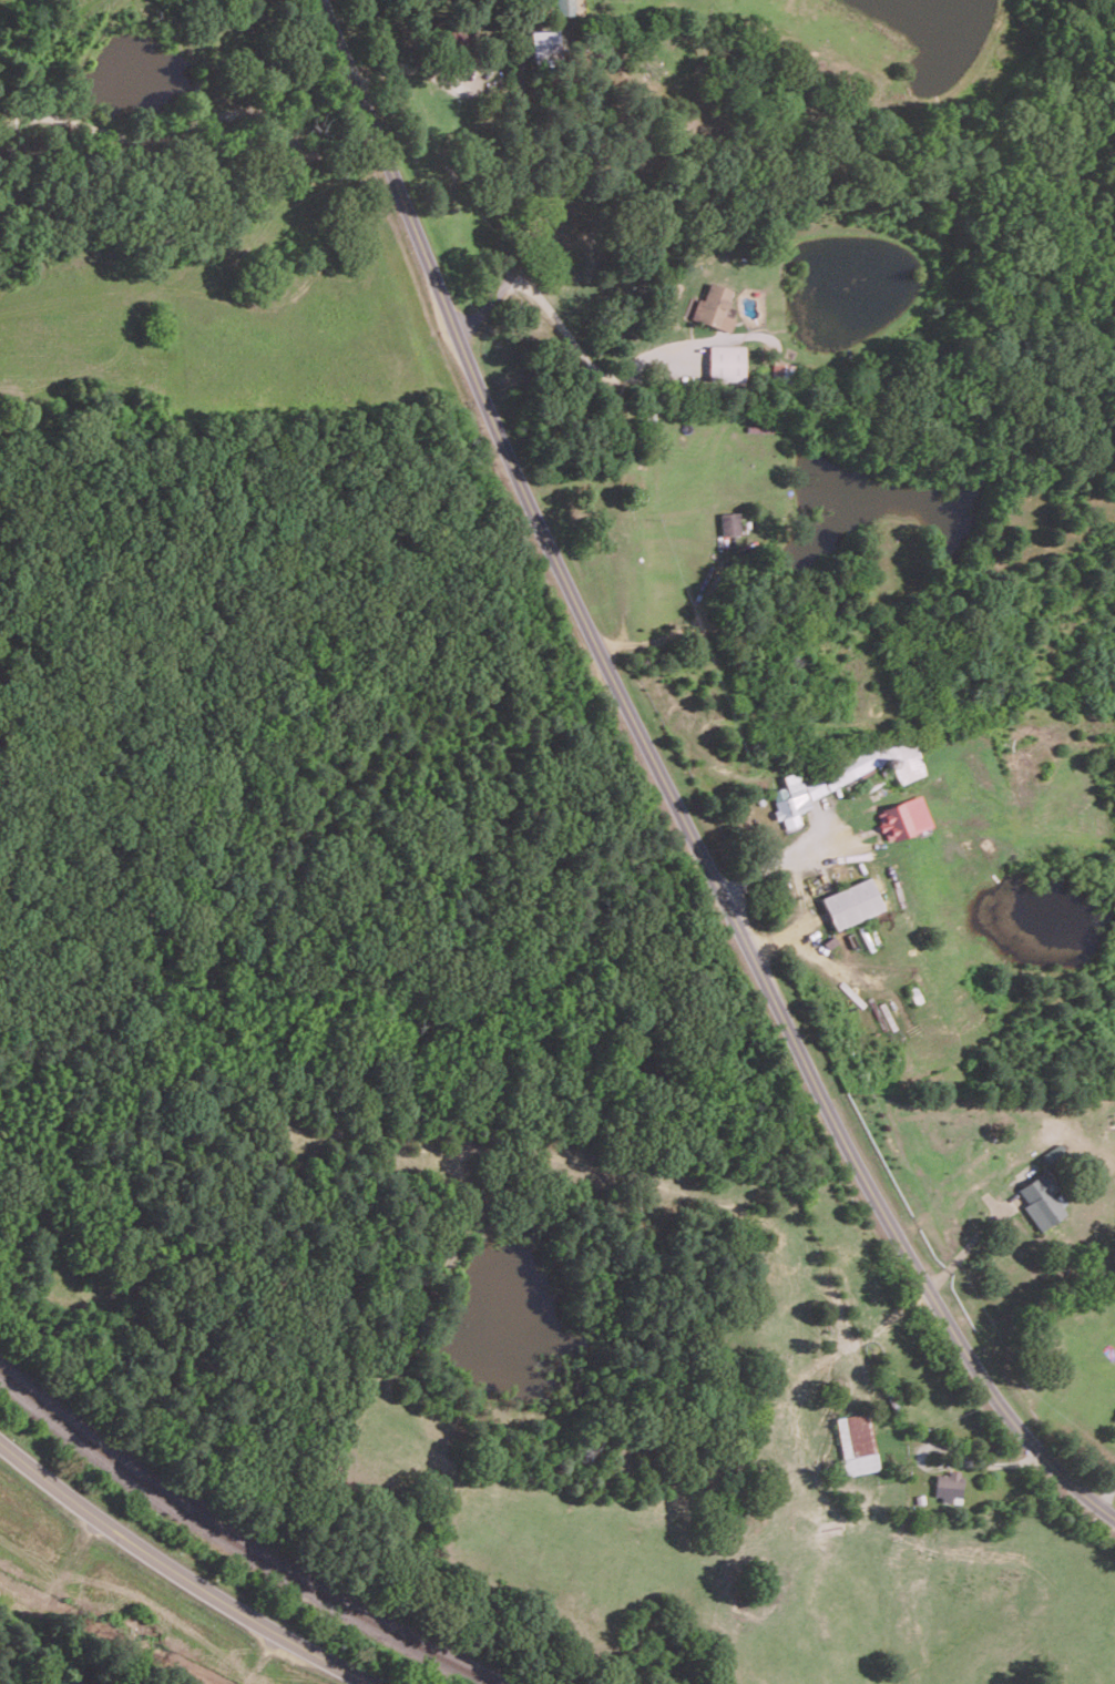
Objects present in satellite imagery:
building: (566, 7)
building: (545, 43)
road: (193, 121)
road: (521, 178)
building: (713, 306)
road: (585, 356)
building: (725, 361)
building: (729, 522)
road: (656, 643)
building: (843, 776)
road: (666, 788)
building: (903, 817)
road: (782, 859)
building: (851, 902)
building: (1054, 1152)
building: (1043, 1198)
road: (970, 1236)
building: (856, 1442)
building: (948, 1486)
railway: (238, 1543)
road: (181, 1572)
road: (263, 1657)

